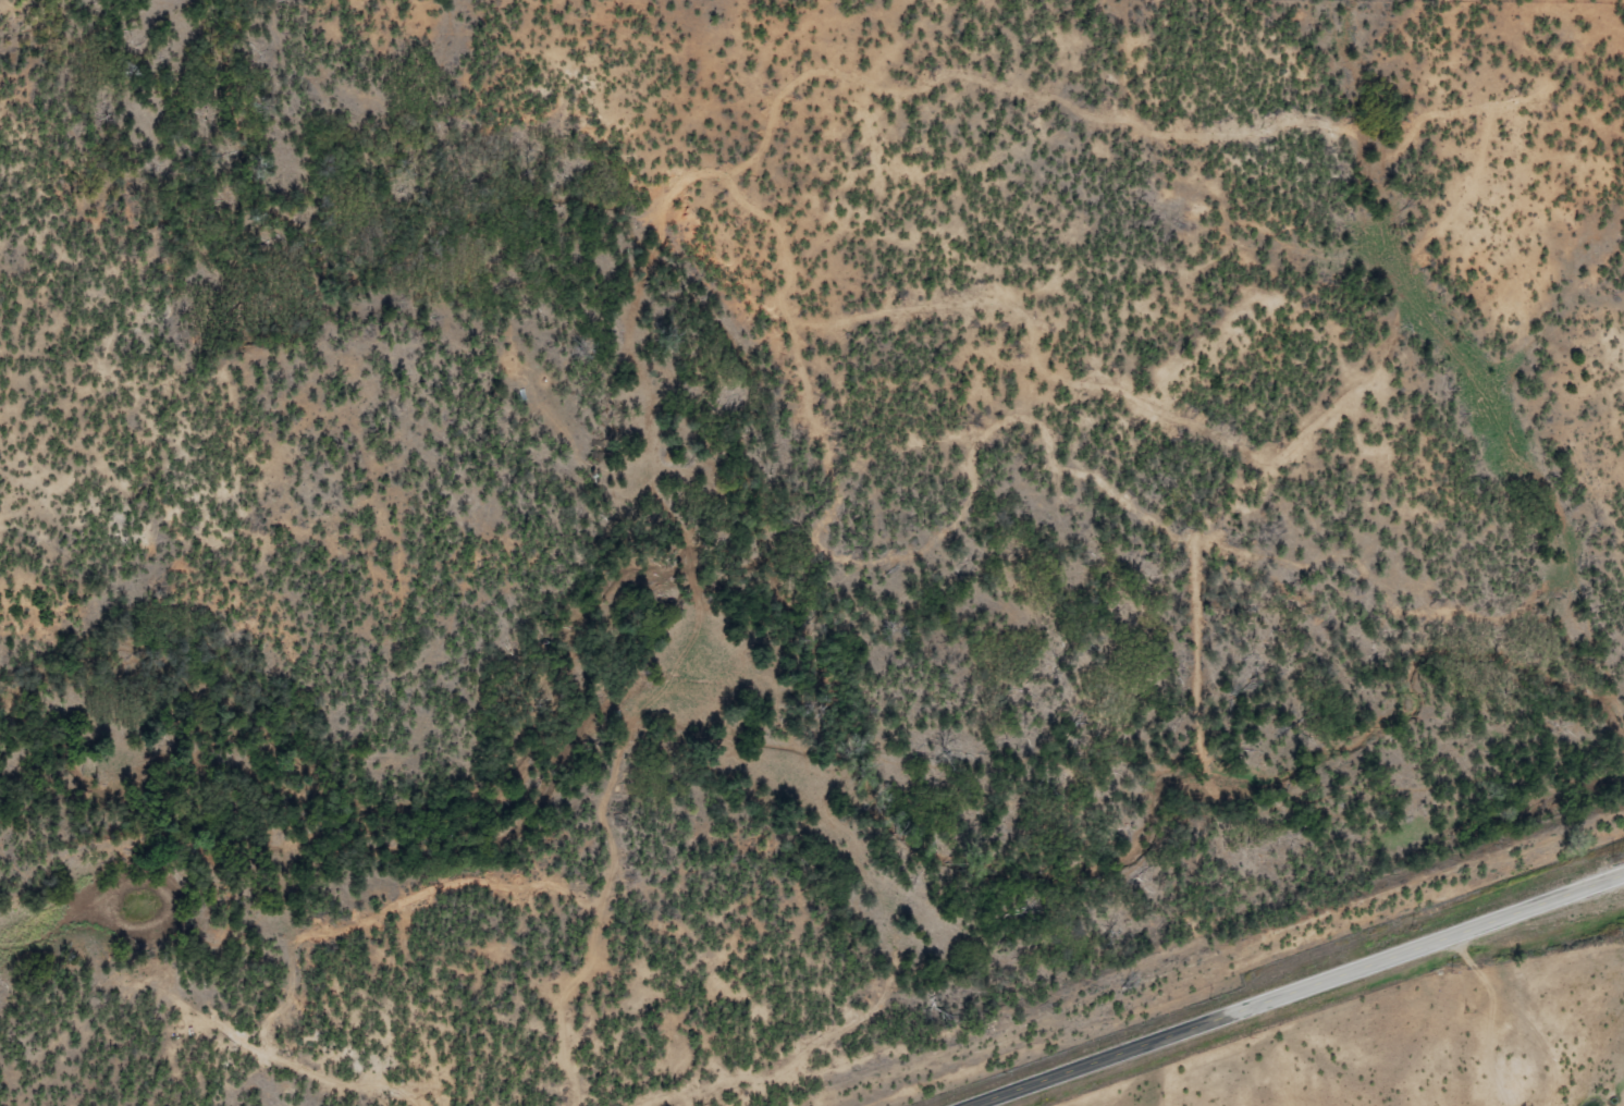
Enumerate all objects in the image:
road: (1370, 10)
railway: (1208, 960)
road: (1305, 993)

